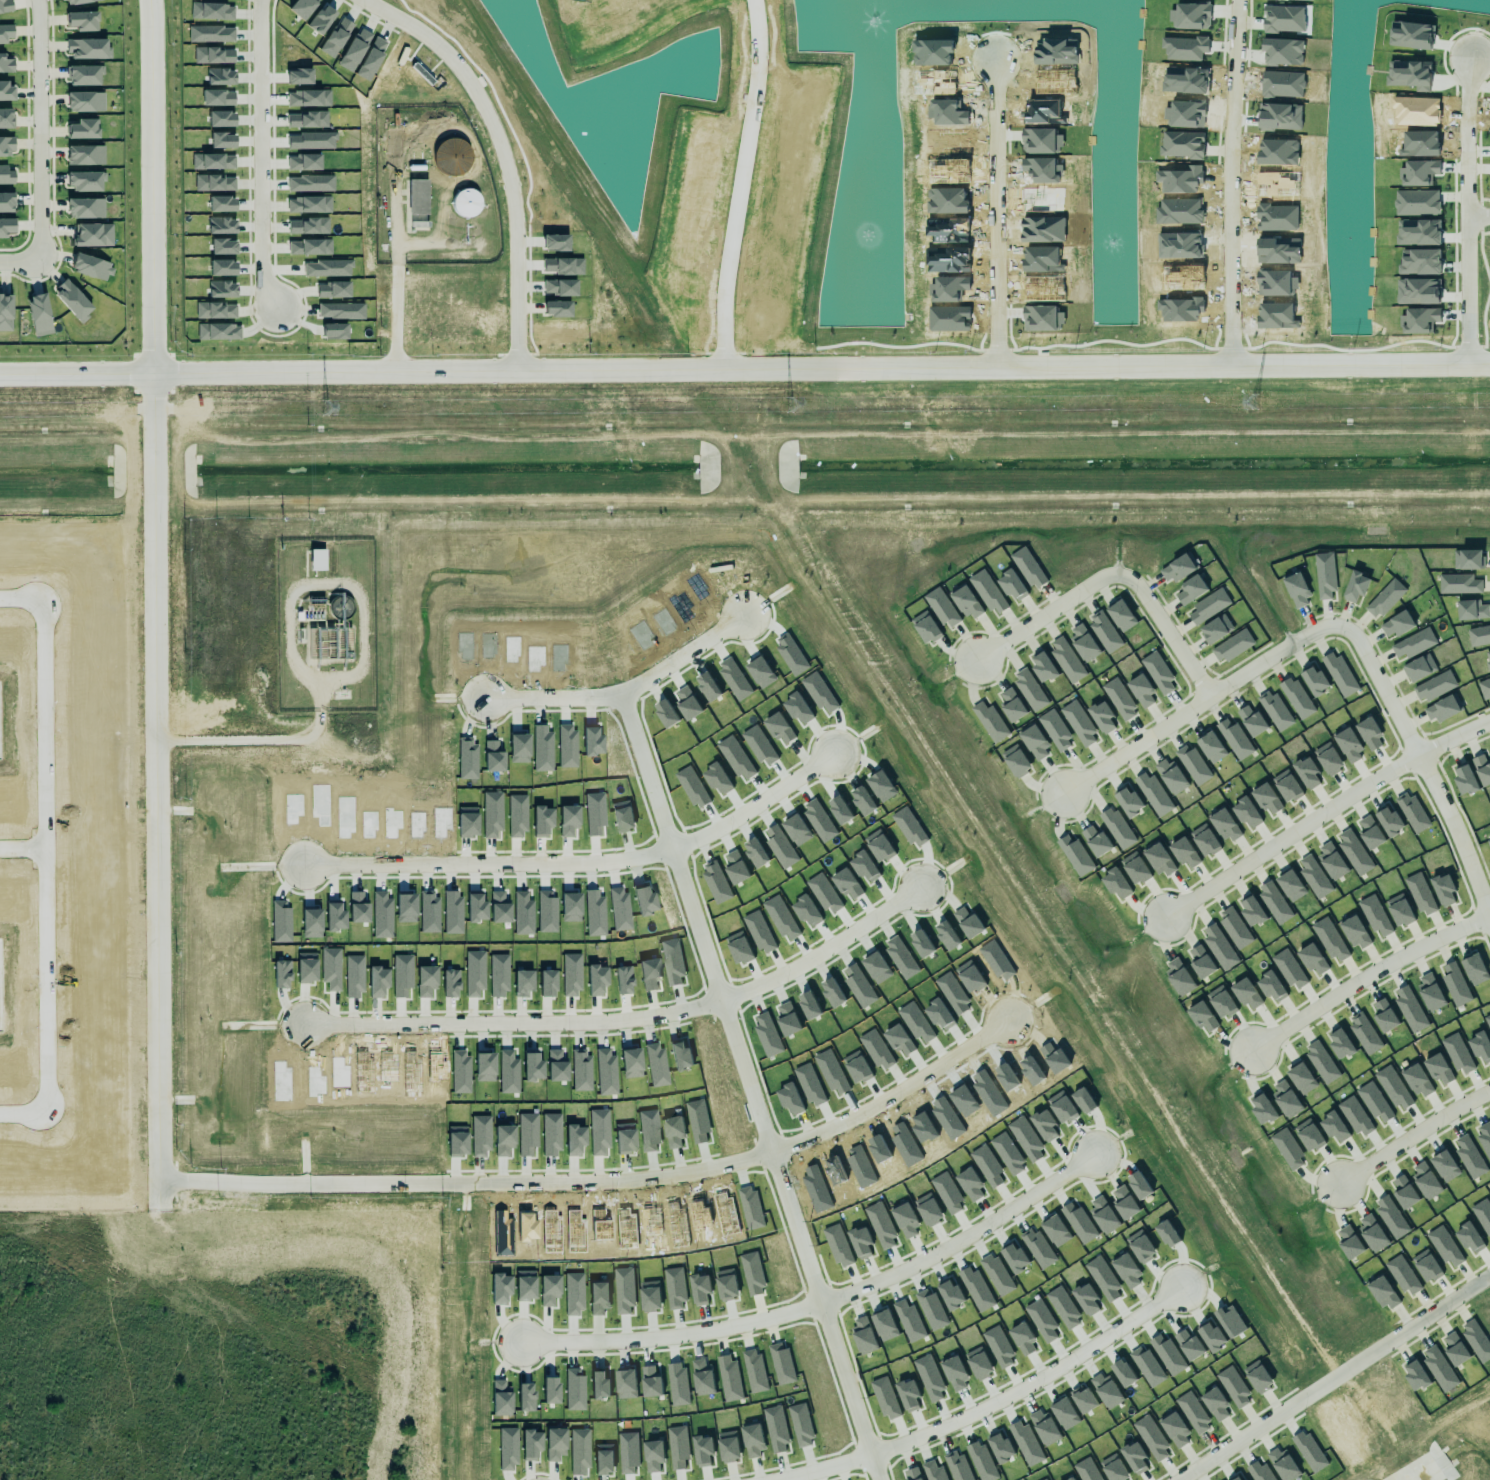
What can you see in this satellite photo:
building: (78, 2)
building: (5, 6)
building: (82, 21)
building: (6, 33)
building: (87, 49)
building: (6, 65)
building: (83, 70)
building: (1410, 74)
building: (6, 87)
building: (84, 97)
building: (6, 115)
building: (82, 125)
road: (36, 131)
building: (85, 151)
road: (503, 152)
road: (259, 154)
building: (7, 174)
building: (85, 176)
road: (737, 182)
road: (1229, 182)
road: (151, 183)
building: (418, 196)
building: (6, 202)
building: (466, 203)
building: (85, 204)
road: (1465, 212)
road: (995, 215)
road: (1477, 216)
building: (418, 221)
building: (6, 226)
building: (93, 234)
road: (20, 264)
building: (92, 267)
road: (396, 274)
building: (73, 301)
building: (38, 309)
building: (6, 312)
road: (745, 365)
power tower: (1252, 403)
power tower: (790, 406)
power tower: (324, 410)
building: (318, 559)
building: (1468, 559)
building: (1029, 566)
building: (1177, 569)
building: (1325, 575)
building: (1459, 584)
building: (1012, 585)
building: (1355, 585)
building: (1297, 589)
building: (1191, 590)
building: (988, 592)
building: (1385, 598)
building: (966, 602)
building: (1209, 606)
building: (942, 608)
building: (1472, 610)
road: (1043, 615)
building: (1121, 615)
building: (1397, 624)
building: (926, 627)
building: (1216, 629)
building: (1104, 631)
road: (1164, 634)
building: (1479, 636)
building: (1083, 642)
building: (1414, 643)
building: (1232, 646)
building: (1488, 656)
building: (1066, 657)
building: (1043, 667)
building: (1419, 668)
building: (1158, 672)
building: (1340, 674)
building: (1315, 680)
building: (1434, 686)
building: (1141, 688)
building: (1484, 688)
building: (1029, 689)
road: (624, 692)
building: (1297, 698)
building: (1119, 699)
road: (1194, 703)
building: (1011, 704)
building: (1442, 709)
building: (1274, 710)
building: (1102, 716)
building: (1252, 720)
building: (990, 722)
building: (1079, 723)
building: (1055, 729)
building: (1369, 729)
building: (1235, 739)
road: (261, 740)
building: (1035, 742)
building: (1347, 742)
building: (1211, 747)
building: (1328, 758)
building: (1016, 760)
building: (1193, 765)
building: (1482, 769)
building: (1307, 772)
road: (1420, 775)
building: (1170, 776)
building: (1465, 780)
building: (1287, 786)
building: (1153, 793)
road: (156, 794)
building: (1266, 795)
building: (1128, 801)
road: (749, 806)
building: (1246, 812)
building: (1412, 812)
road: (1319, 813)
building: (1389, 820)
building: (1224, 824)
building: (1117, 828)
building: (1370, 832)
building: (1205, 840)
building: (1096, 841)
building: (1488, 843)
road: (22, 848)
building: (1184, 852)
building: (1354, 852)
building: (1075, 855)
building: (1159, 857)
road: (45, 858)
building: (1331, 861)
road: (487, 864)
building: (1136, 868)
building: (1314, 876)
building: (1291, 882)
building: (1116, 883)
building: (1443, 889)
building: (1420, 894)
building: (1274, 900)
building: (1253, 908)
building: (1399, 908)
building: (1374, 915)
building: (1234, 925)
building: (1354, 932)
building: (1330, 940)
building: (1219, 946)
road: (820, 951)
building: (1313, 959)
building: (1201, 962)
building: (1289, 966)
building: (1475, 969)
building: (1179, 976)
road: (1365, 977)
building: (1455, 983)
building: (1271, 986)
building: (1430, 992)
building: (1247, 994)
building: (1221, 1001)
building: (1409, 1007)
building: (1383, 1011)
building: (1203, 1017)
building: (1487, 1020)
road: (514, 1024)
building: (1364, 1033)
building: (1340, 1043)
building: (1480, 1043)
building: (1458, 1054)
building: (681, 1056)
building: (1321, 1062)
building: (631, 1063)
building: (656, 1064)
building: (532, 1067)
building: (1438, 1068)
building: (581, 1071)
building: (606, 1073)
building: (1302, 1078)
building: (1416, 1080)
building: (1392, 1084)
road: (748, 1087)
building: (1285, 1095)
building: (1084, 1100)
building: (1374, 1101)
building: (1262, 1106)
building: (1062, 1107)
building: (1355, 1116)
building: (698, 1120)
building: (1044, 1125)
building: (1335, 1127)
building: (649, 1130)
building: (599, 1131)
building: (674, 1131)
building: (527, 1133)
building: (551, 1134)
building: (1308, 1135)
building: (480, 1136)
road: (1410, 1136)
building: (1484, 1137)
building: (625, 1138)
building: (574, 1139)
building: (1026, 1139)
building: (504, 1140)
building: (457, 1141)
building: (1287, 1149)
building: (1008, 1153)
building: (1469, 1157)
building: (1444, 1162)
building: (987, 1165)
building: (1425, 1179)
road: (618, 1181)
building: (971, 1185)
building: (1139, 1185)
building: (1404, 1192)
building: (948, 1193)
building: (1125, 1203)
building: (750, 1207)
building: (929, 1209)
building: (1481, 1211)
building: (1103, 1216)
building: (1391, 1217)
building: (906, 1220)
building: (1079, 1223)
building: (881, 1225)
building: (1055, 1230)
building: (1372, 1232)
building: (1166, 1233)
building: (1469, 1237)
building: (861, 1242)
building: (1350, 1242)
building: (838, 1245)
building: (1037, 1247)
building: (1140, 1247)
building: (1445, 1247)
building: (1015, 1257)
building: (1426, 1266)
building: (1126, 1270)
building: (752, 1273)
building: (997, 1275)
building: (1403, 1275)
building: (1103, 1278)
building: (727, 1284)
building: (525, 1285)
building: (500, 1288)
building: (675, 1288)
building: (700, 1288)
building: (976, 1289)
building: (1383, 1289)
building: (549, 1290)
building: (624, 1290)
building: (573, 1294)
building: (951, 1294)
building: (650, 1296)
building: (599, 1297)
building: (1086, 1299)
road: (821, 1302)
building: (1062, 1307)
building: (931, 1308)
building: (1041, 1320)
building: (1230, 1320)
building: (910, 1321)
building: (885, 1325)
building: (864, 1334)
building: (1211, 1336)
building: (1022, 1339)
building: (1476, 1340)
building: (1189, 1345)
building: (999, 1347)
building: (1455, 1349)
building: (1168, 1355)
building: (781, 1363)
building: (979, 1363)
building: (1146, 1366)
building: (1439, 1368)
building: (754, 1370)
building: (955, 1373)
building: (1124, 1373)
building: (1416, 1375)
building: (702, 1376)
building: (1257, 1376)
road: (1332, 1376)
building: (729, 1378)
building: (929, 1378)
building: (651, 1382)
building: (626, 1384)
building: (678, 1384)
building: (600, 1385)
building: (1233, 1386)
building: (574, 1389)
building: (550, 1390)
building: (1106, 1391)
building: (909, 1394)
building: (525, 1397)
building: (885, 1397)
building: (501, 1398)
building: (1083, 1399)
building: (1215, 1404)
road: (989, 1406)
building: (1192, 1412)
building: (1065, 1413)
building: (801, 1425)
building: (1044, 1426)
building: (776, 1428)
building: (1175, 1429)
building: (1151, 1437)
building: (753, 1441)
building: (1026, 1443)
building: (531, 1444)
building: (555, 1444)
building: (729, 1446)
building: (678, 1447)
building: (1001, 1447)
building: (507, 1449)
building: (704, 1450)
building: (579, 1451)
building: (1310, 1451)
building: (628, 1453)
building: (654, 1455)
building: (1134, 1458)
building: (604, 1459)
building: (981, 1461)
building: (1284, 1464)
building: (958, 1466)
building: (1113, 1468)
building: (1086, 1470)
building: (933, 1471)
building: (1262, 1471)
building: (913, 1474)
building: (1239, 1478)
building: (1046, 1479)
building: (1072, 1479)

